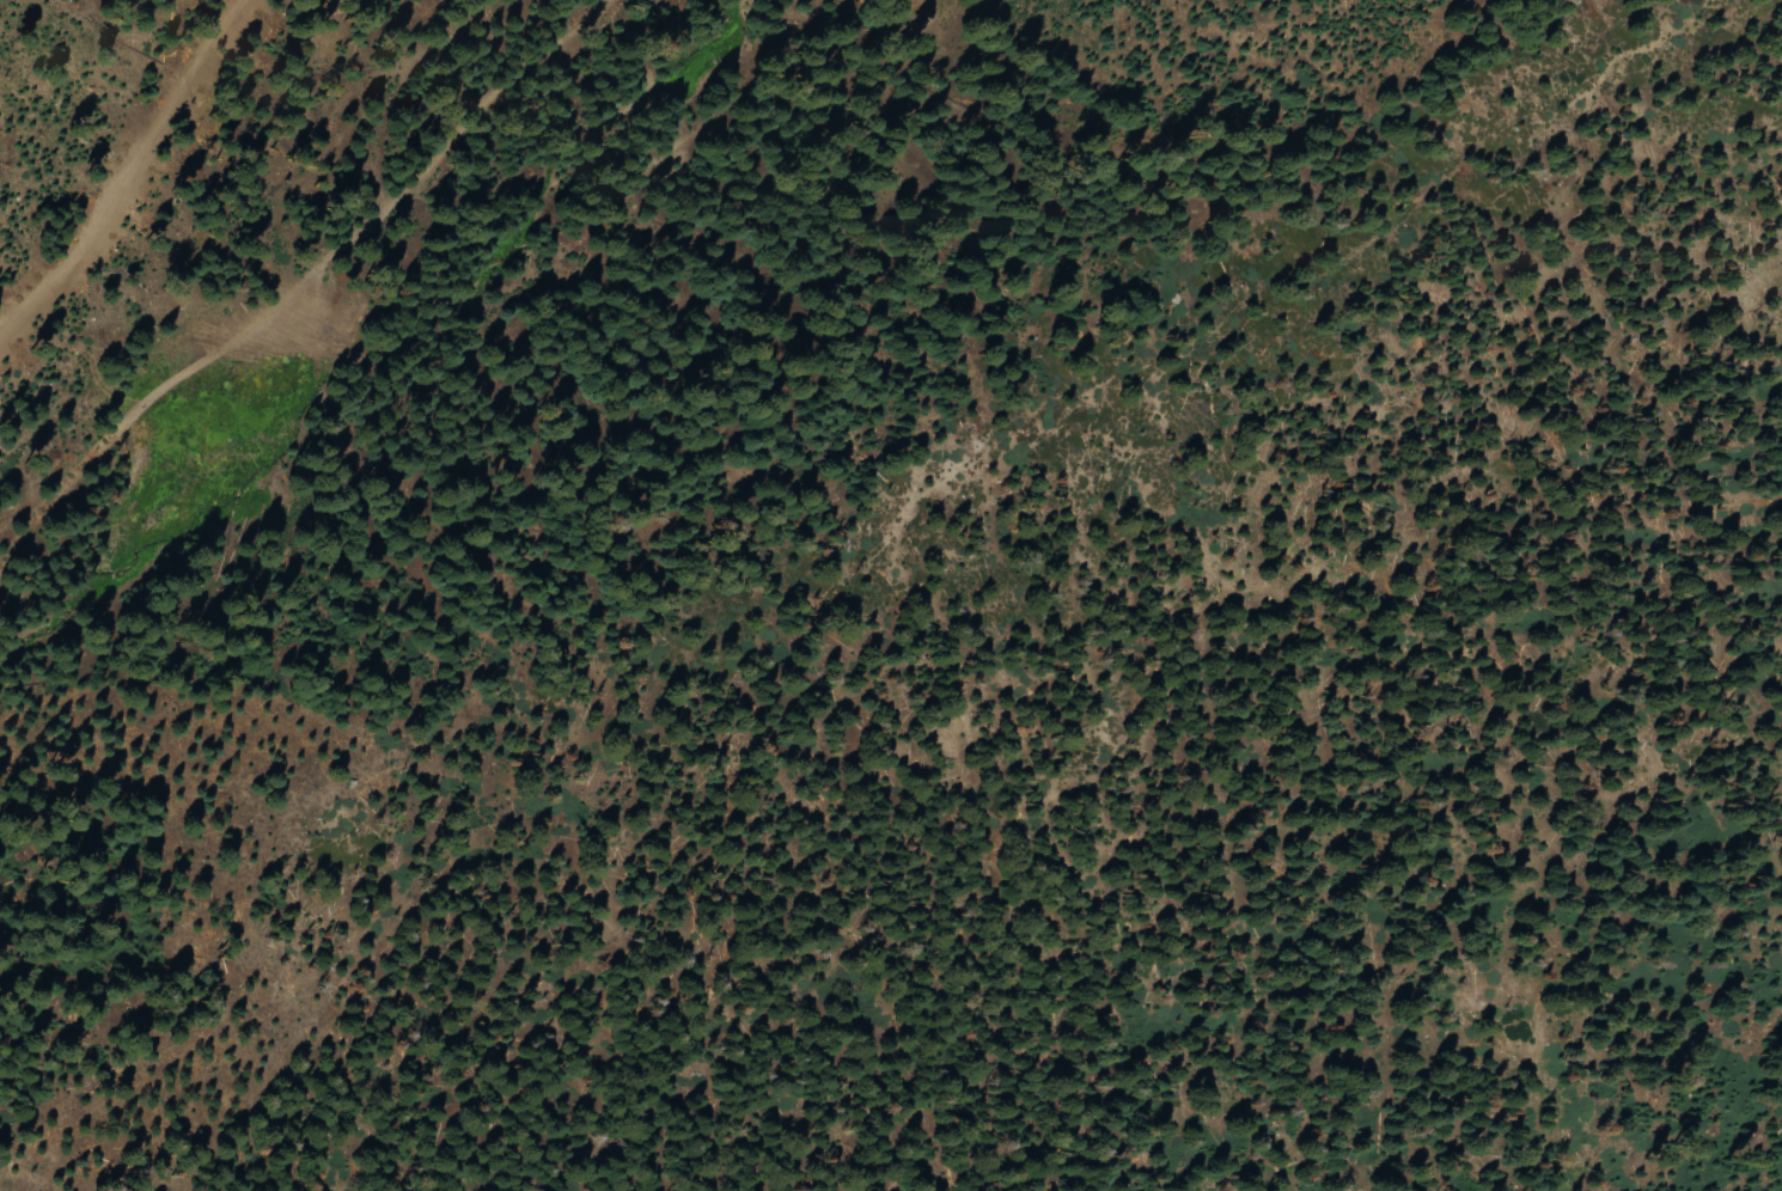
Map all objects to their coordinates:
road: (300, 285)

